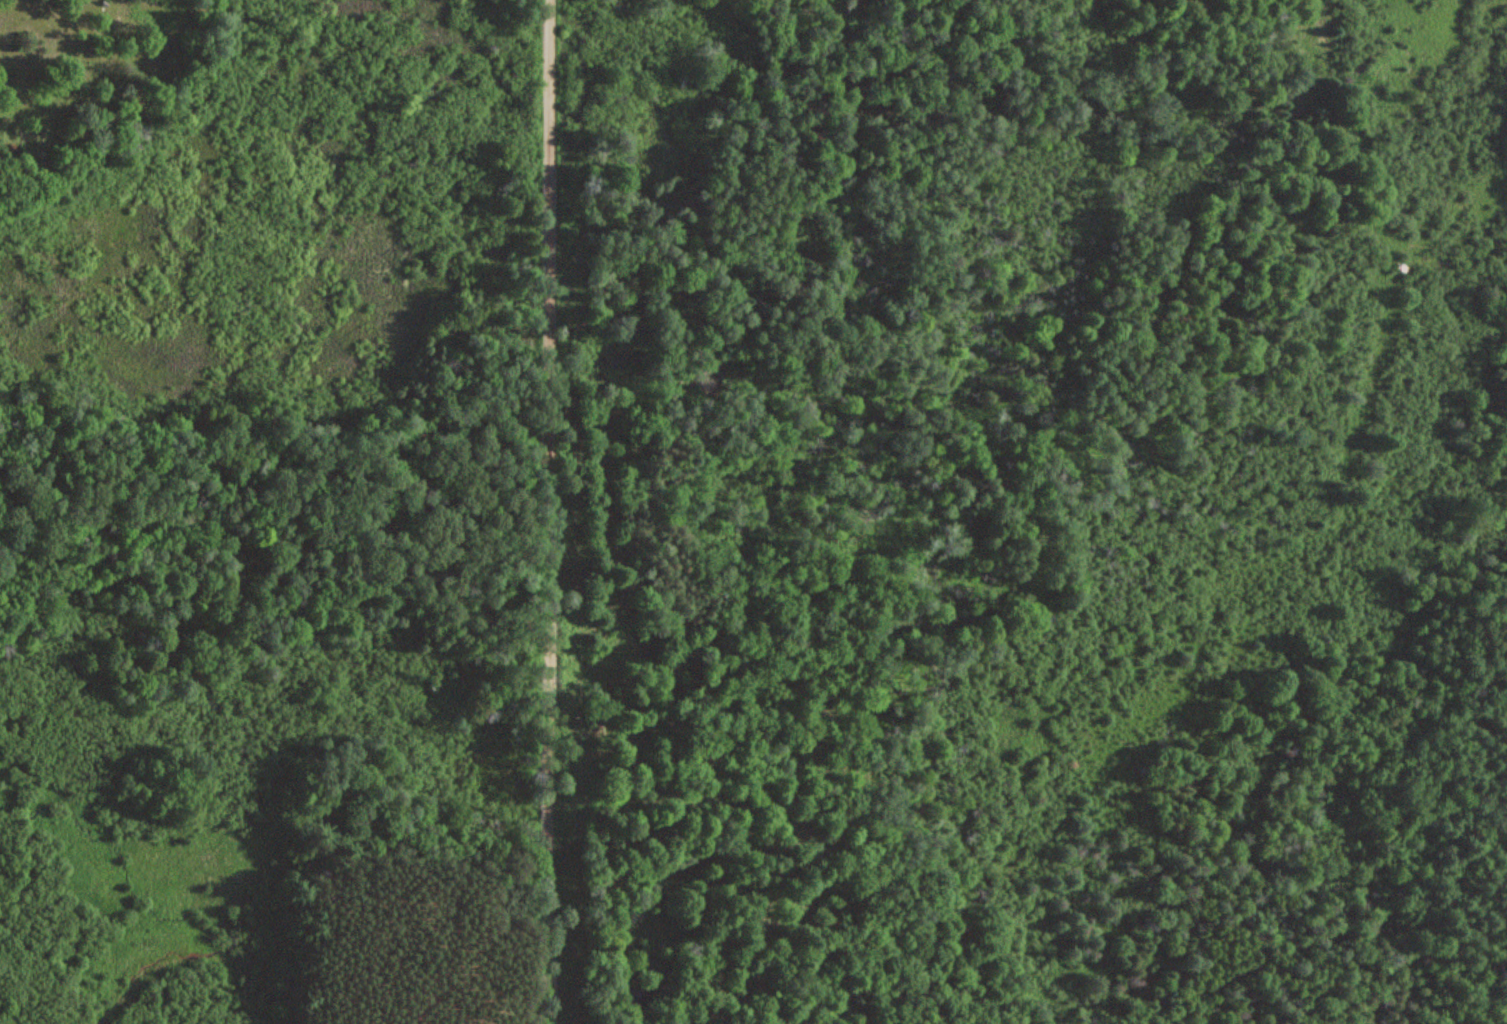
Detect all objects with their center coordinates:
road: (566, 512)

